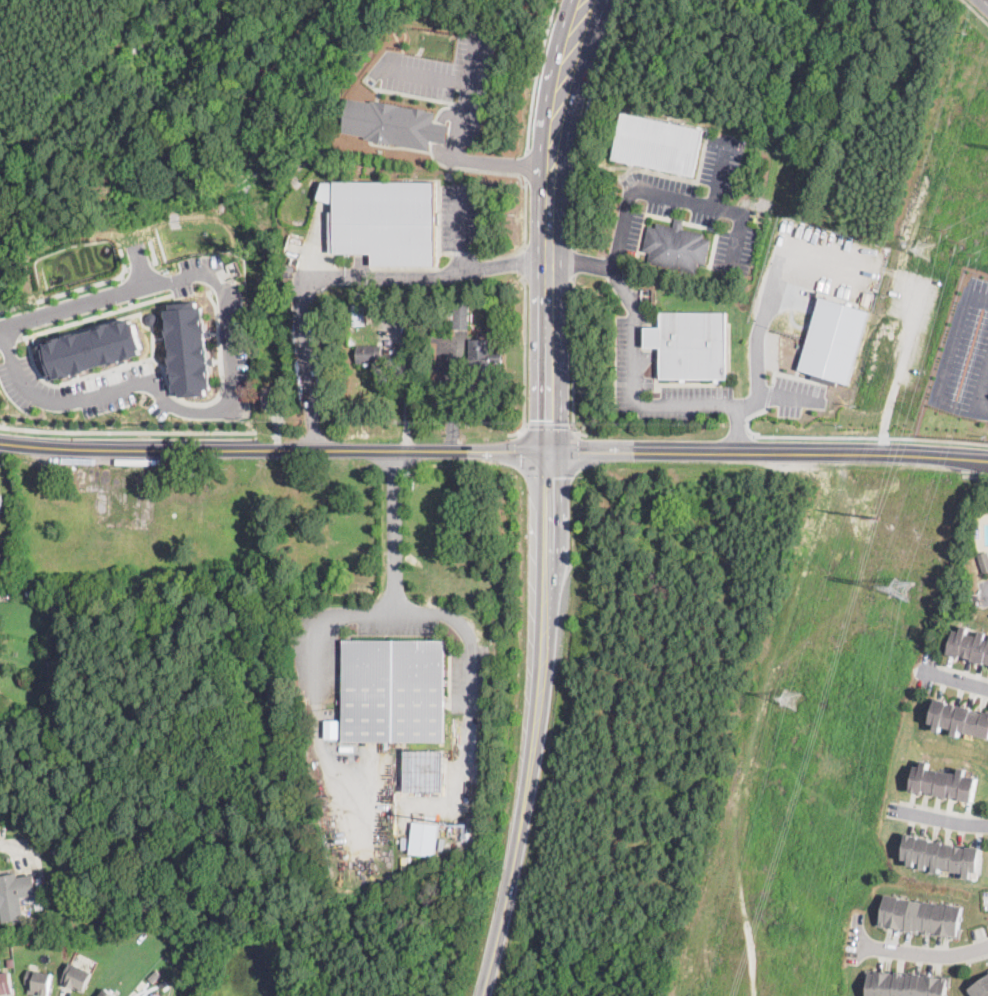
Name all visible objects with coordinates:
road: (985, 2)
road: (976, 11)
road: (473, 60)
road: (535, 74)
parking lot: (443, 79)
road: (458, 80)
building: (200, 81)
road: (583, 120)
building: (393, 122)
road: (436, 132)
building: (656, 144)
road: (496, 164)
road: (526, 165)
road: (477, 169)
road: (718, 173)
road: (676, 196)
parking lot: (705, 200)
road: (525, 213)
parking lot: (458, 214)
building: (384, 219)
road: (550, 223)
parking lot: (626, 226)
road: (460, 227)
power tower: (957, 239)
building: (676, 246)
power tower: (922, 248)
road: (153, 251)
road: (573, 261)
road: (524, 263)
road: (144, 264)
road: (140, 265)
road: (601, 265)
road: (126, 268)
road: (343, 275)
road: (75, 288)
building: (477, 299)
building: (356, 313)
road: (95, 315)
road: (760, 318)
building: (460, 319)
parking lot: (221, 325)
building: (430, 325)
road: (1, 327)
road: (650, 337)
building: (652, 337)
road: (9, 339)
building: (834, 339)
building: (694, 345)
building: (92, 348)
building: (189, 348)
building: (482, 352)
building: (372, 353)
parking lot: (965, 355)
road: (525, 358)
road: (573, 358)
road: (139, 360)
parking lot: (629, 363)
road: (228, 374)
road: (944, 377)
road: (406, 386)
parking lot: (83, 388)
parking lot: (795, 394)
road: (768, 395)
road: (782, 395)
road: (747, 399)
road: (634, 406)
road: (983, 411)
road: (747, 418)
road: (549, 424)
road: (738, 430)
road: (127, 431)
road: (870, 437)
road: (493, 449)
traffic signals: (549, 450)
road: (519, 452)
road: (577, 452)
road: (548, 474)
road: (975, 475)
building: (0, 504)
power tower: (876, 515)
road: (393, 530)
building: (983, 559)
power tower: (898, 587)
parking lot: (984, 589)
road: (985, 598)
building: (970, 645)
building: (54, 671)
road: (962, 671)
road: (958, 680)
building: (393, 690)
power tower: (787, 697)
building: (959, 717)
road: (534, 725)
building: (331, 728)
building: (423, 770)
building: (944, 781)
road: (459, 800)
road: (943, 809)
road: (939, 818)
building: (426, 839)
road: (9, 844)
building: (942, 854)
building: (75, 887)
building: (15, 895)
building: (921, 915)
road: (926, 952)
road: (977, 957)
building: (10, 960)
building: (77, 976)
building: (153, 976)
building: (38, 981)
building: (5, 982)
building: (905, 983)
building: (981, 987)
building: (107, 992)

